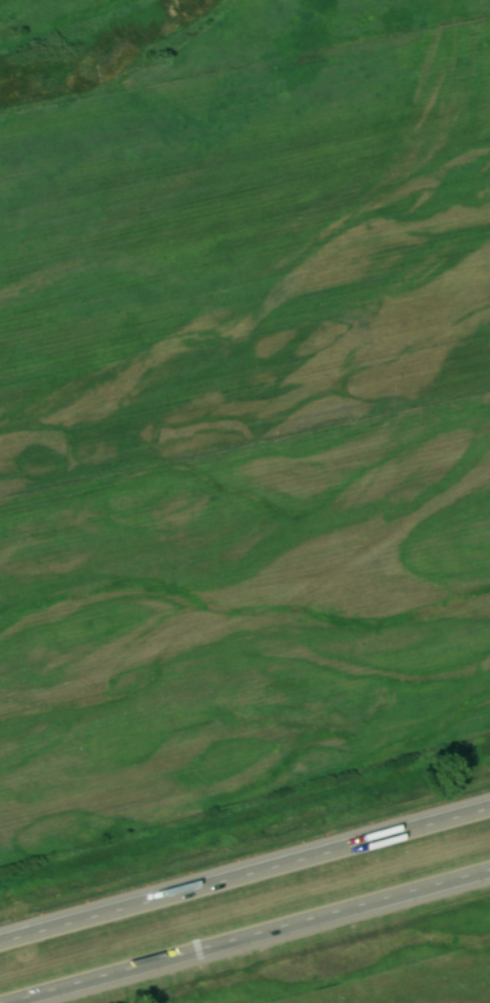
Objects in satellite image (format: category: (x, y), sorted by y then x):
road: (245, 879)
road: (256, 938)

